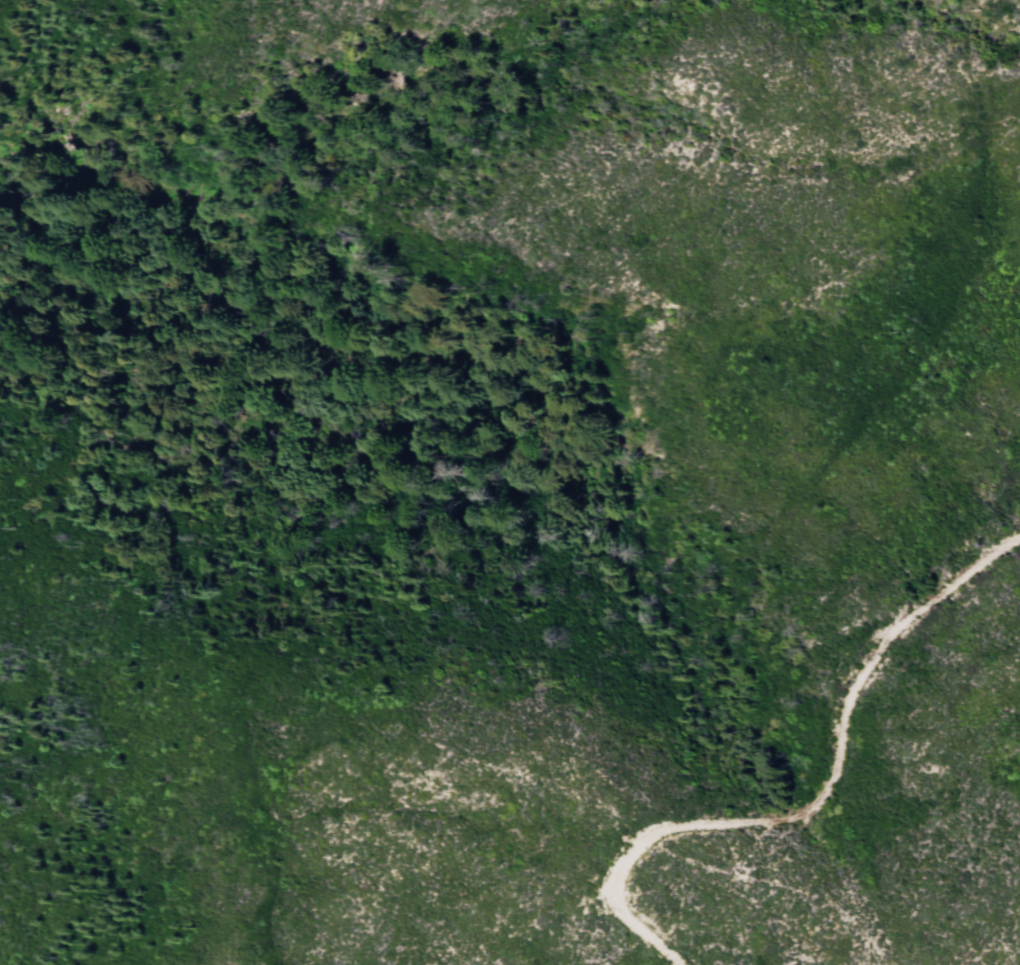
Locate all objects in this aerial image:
road: (816, 793)

